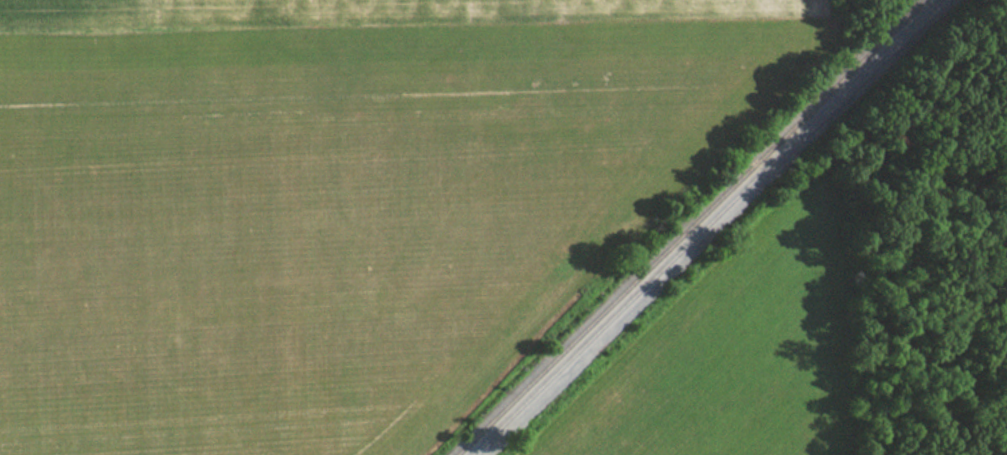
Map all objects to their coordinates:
railway: (866, 65)
crop: (332, 198)
railway: (687, 227)

